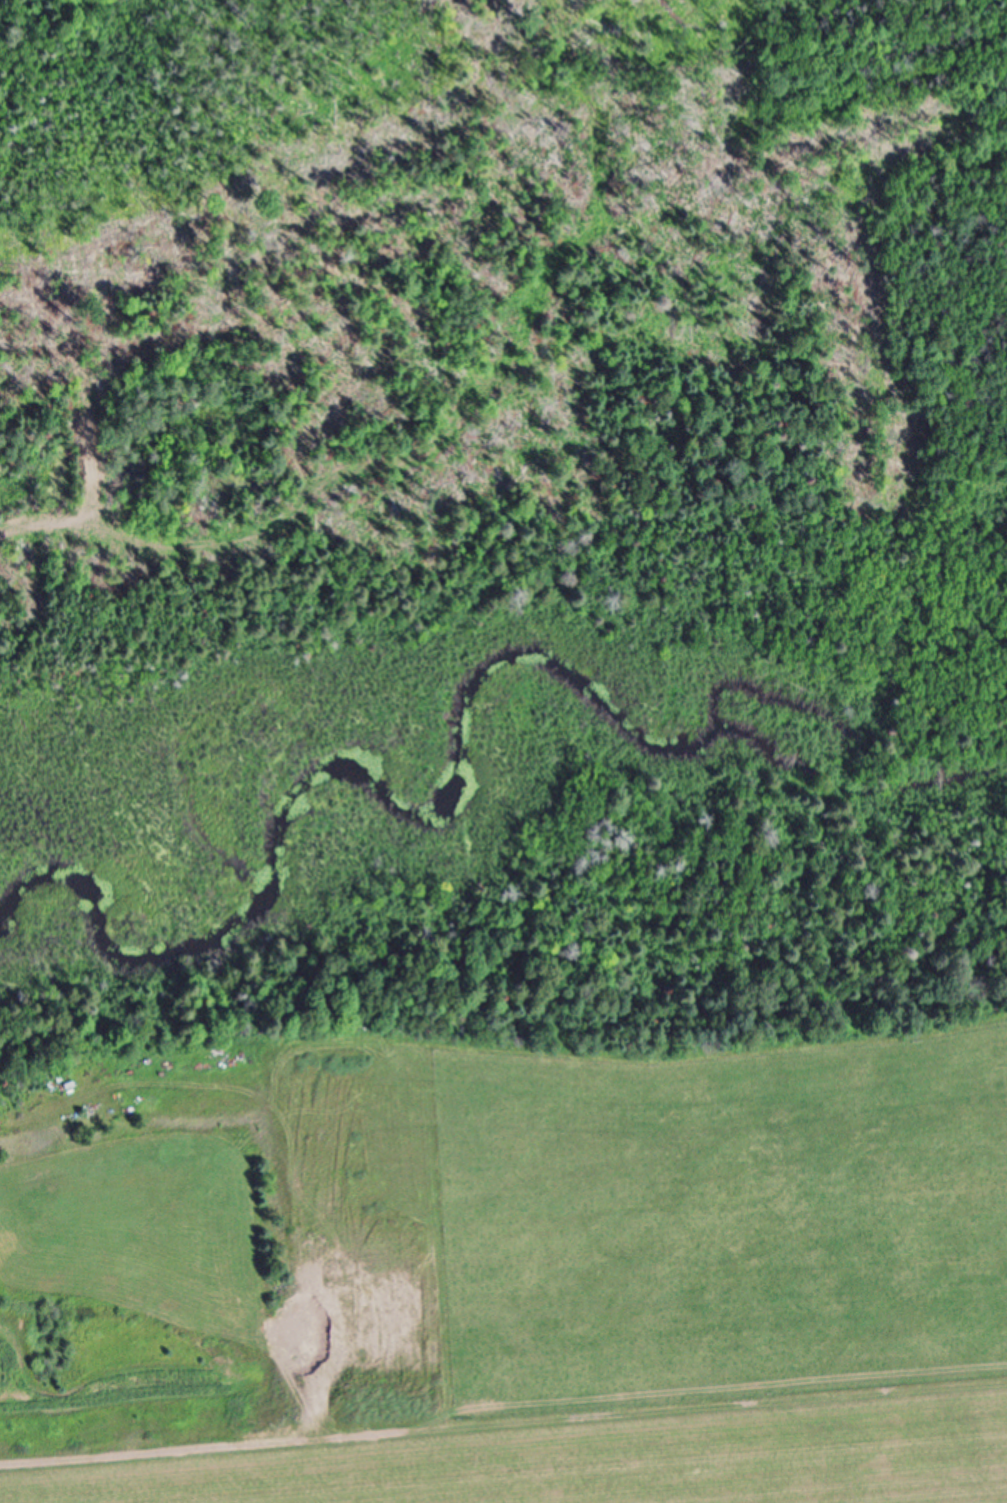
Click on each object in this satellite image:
road: (659, 1411)
road: (156, 1457)

